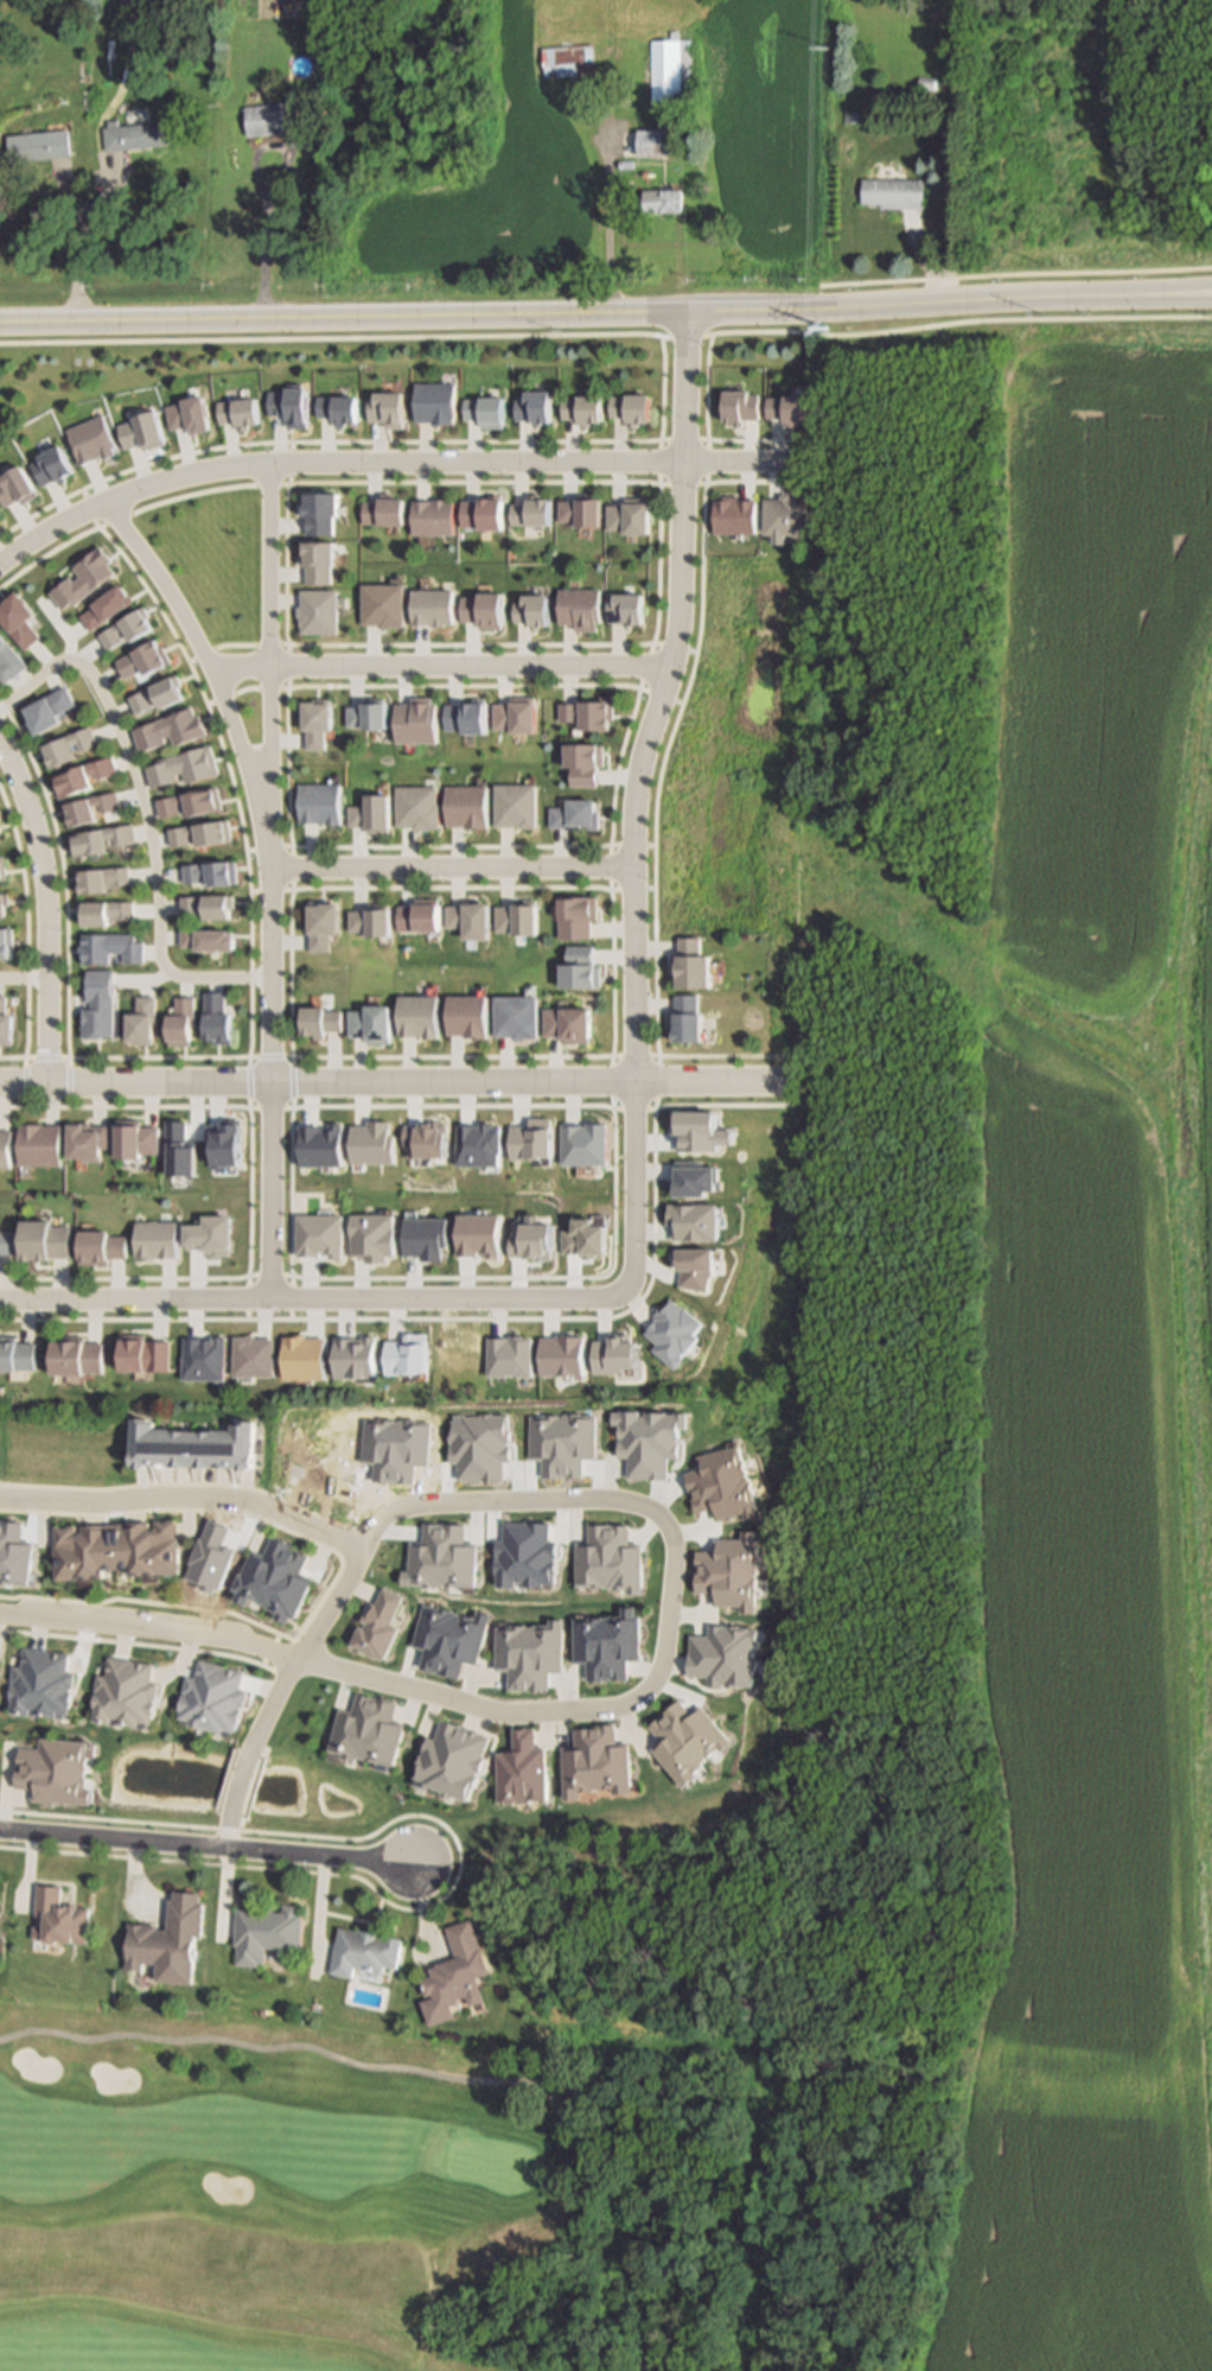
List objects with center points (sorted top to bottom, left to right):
power tower: (835, 51)
building: (568, 61)
building: (669, 66)
building: (107, 72)
building: (927, 82)
building: (318, 96)
building: (536, 108)
building: (850, 115)
building: (272, 116)
building: (136, 133)
building: (651, 140)
building: (39, 141)
building: (626, 161)
building: (894, 190)
park: (1170, 191)
building: (662, 198)
road: (610, 225)
road: (77, 242)
road: (262, 242)
road: (1015, 275)
road: (1165, 291)
road: (1165, 297)
road: (806, 310)
power tower: (1038, 316)
road: (247, 319)
road: (1015, 320)
power tower: (824, 330)
road: (687, 338)
road: (331, 343)
road: (710, 377)
building: (385, 406)
building: (744, 408)
building: (789, 408)
building: (633, 411)
road: (369, 439)
road: (684, 439)
road: (707, 460)
road: (538, 462)
road: (291, 478)
road: (154, 487)
road: (661, 487)
road: (193, 500)
building: (384, 508)
building: (582, 510)
building: (434, 515)
building: (631, 515)
building: (786, 515)
road: (21, 549)
building: (434, 606)
building: (581, 608)
building: (626, 609)
road: (653, 643)
building: (8, 661)
road: (650, 665)
road: (442, 668)
road: (215, 674)
building: (45, 710)
building: (589, 714)
building: (370, 716)
building: (517, 717)
building: (420, 722)
building: (583, 762)
road: (661, 786)
road: (638, 802)
building: (190, 803)
building: (320, 803)
building: (515, 805)
building: (417, 806)
building: (466, 806)
building: (370, 813)
building: (575, 815)
road: (143, 816)
road: (611, 819)
building: (200, 831)
building: (0, 834)
building: (98, 839)
road: (267, 846)
road: (289, 867)
road: (454, 867)
building: (0, 869)
building: (209, 871)
building: (101, 878)
road: (270, 881)
road: (267, 892)
building: (1, 903)
building: (205, 903)
building: (103, 910)
building: (576, 914)
road: (37, 915)
building: (419, 916)
building: (516, 916)
building: (470, 917)
building: (370, 918)
building: (323, 921)
building: (206, 936)
building: (5, 940)
road: (17, 943)
building: (108, 947)
building: (581, 962)
building: (694, 962)
road: (18, 980)
road: (139, 984)
road: (247, 990)
building: (95, 1004)
building: (467, 1010)
building: (419, 1011)
building: (516, 1011)
building: (567, 1018)
building: (687, 1018)
building: (140, 1019)
building: (320, 1019)
building: (178, 1021)
building: (371, 1022)
road: (267, 1055)
road: (615, 1056)
road: (43, 1057)
road: (389, 1079)
road: (287, 1080)
road: (244, 1081)
road: (21, 1082)
road: (64, 1082)
road: (264, 1106)
building: (85, 1138)
building: (39, 1143)
building: (135, 1143)
building: (4, 1148)
road: (244, 1194)
building: (325, 1218)
building: (44, 1234)
building: (155, 1241)
building: (6, 1242)
building: (101, 1242)
road: (610, 1277)
crop: (1025, 1288)
road: (313, 1301)
road: (492, 1315)
building: (375, 1348)
building: (17, 1356)
building: (78, 1359)
building: (198, 1453)
road: (597, 1496)
road: (184, 1499)
building: (119, 1556)
road: (296, 1654)
road: (317, 1663)
building: (126, 1696)
building: (211, 1697)
road: (236, 1782)
road: (225, 1827)
road: (204, 1843)
building: (60, 1914)
park: (640, 1919)
building: (266, 1930)
building: (168, 1935)
building: (365, 1947)
building: (457, 1970)
road: (442, 2077)
park: (495, 2166)
park: (382, 2202)

